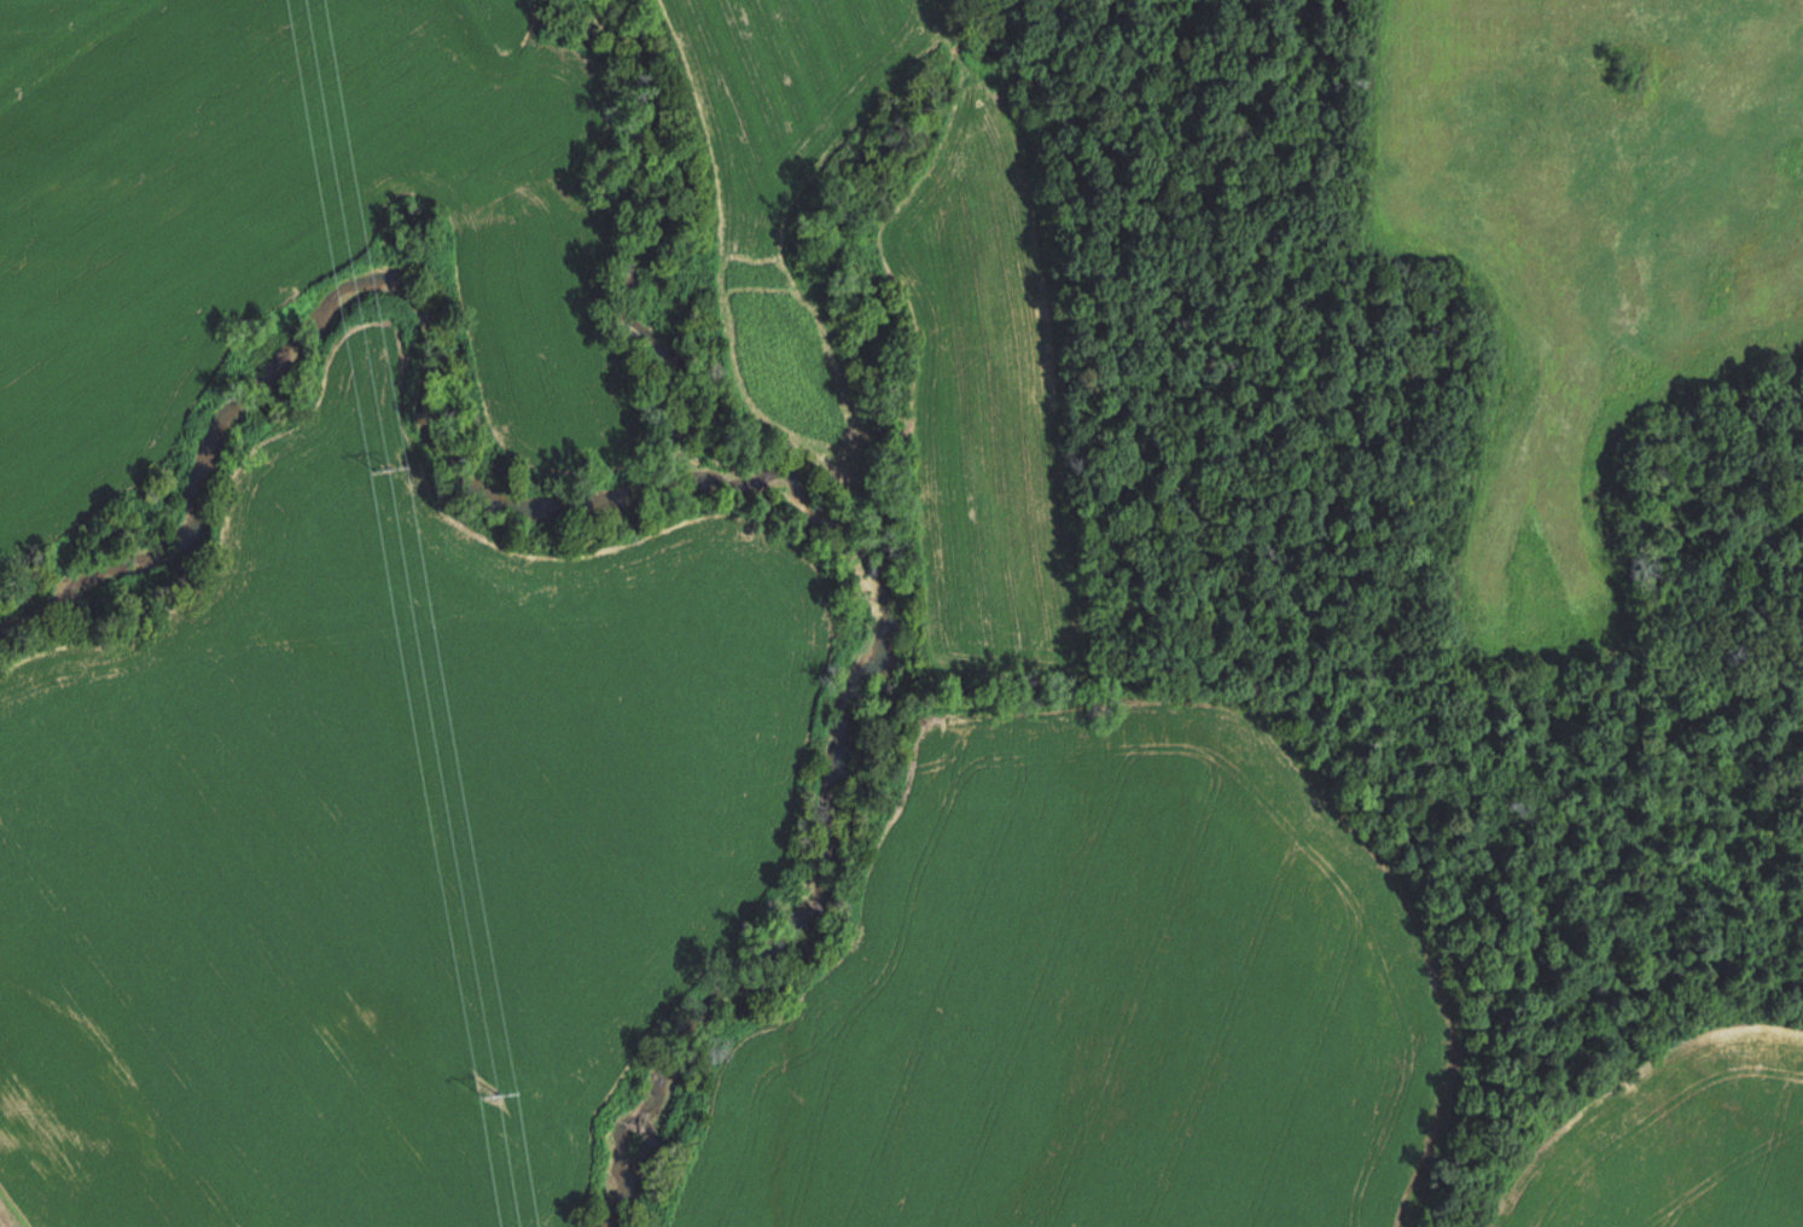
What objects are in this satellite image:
power tower: (380, 470)
power tower: (488, 1084)
road: (13, 1206)

